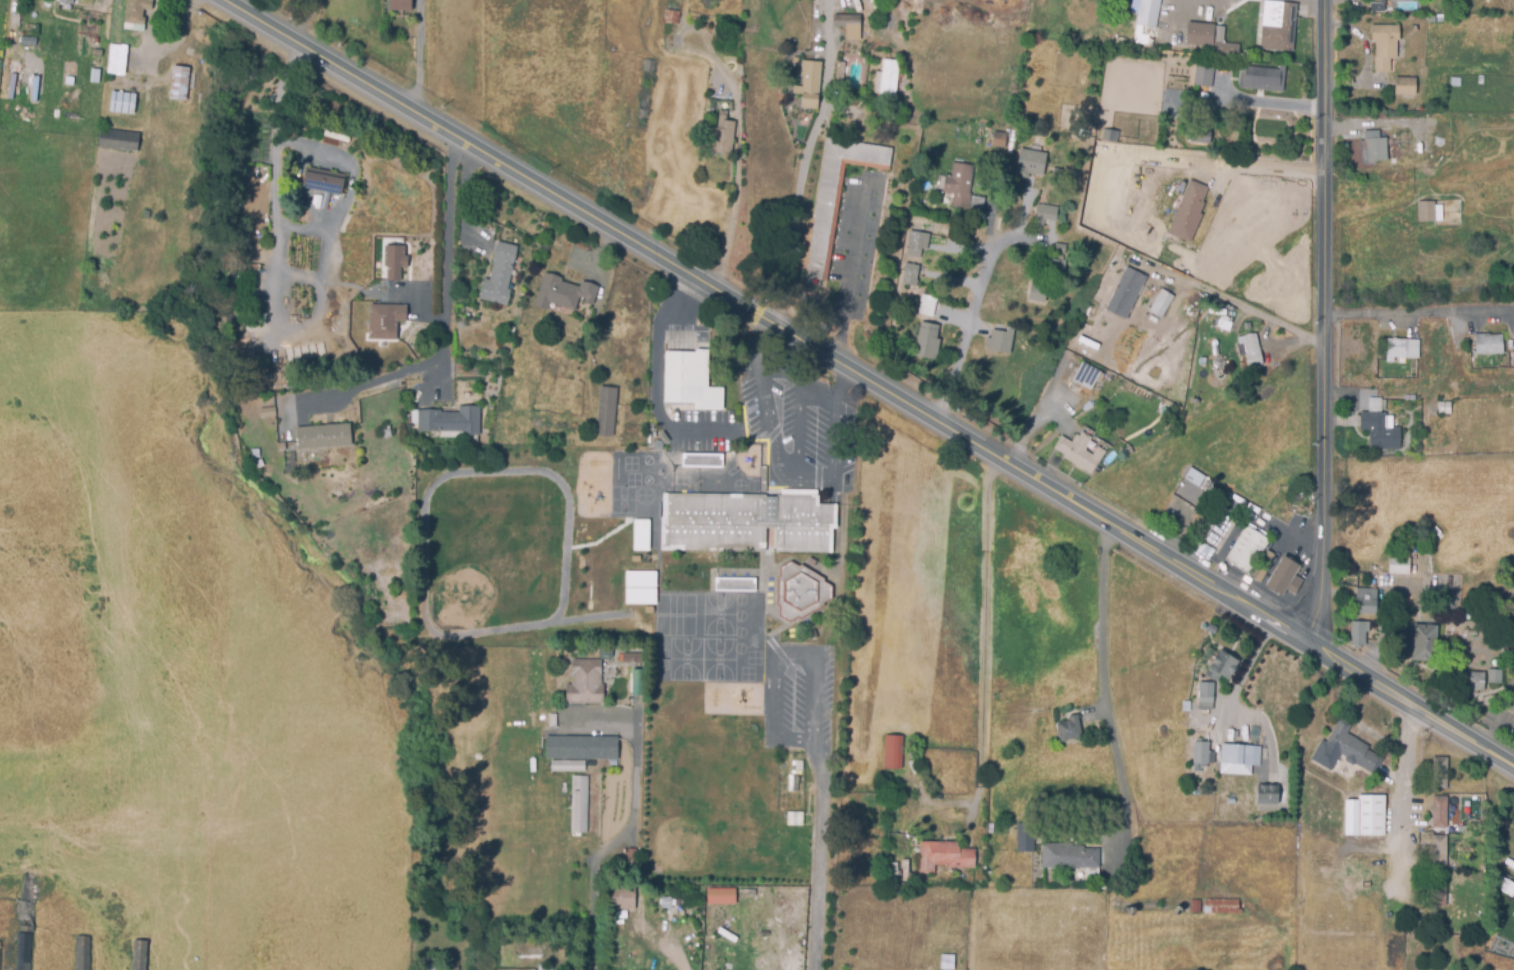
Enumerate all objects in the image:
building: (65, 1)
road: (1296, 2)
building: (108, 3)
building: (46, 4)
building: (399, 7)
building: (1382, 7)
building: (135, 13)
building: (1148, 13)
building: (850, 25)
building: (1279, 25)
building: (1210, 39)
building: (1388, 45)
building: (117, 59)
building: (840, 73)
building: (16, 74)
building: (1203, 76)
building: (1262, 78)
building: (887, 81)
building: (1456, 81)
building: (179, 83)
building: (811, 83)
building: (1406, 85)
building: (121, 102)
building: (857, 113)
road: (1371, 124)
building: (1084, 133)
building: (1200, 133)
building: (722, 135)
building: (1108, 137)
building: (116, 139)
building: (999, 140)
building: (1376, 145)
building: (1032, 162)
road: (806, 163)
road: (1229, 164)
building: (1128, 166)
building: (322, 181)
building: (1103, 181)
building: (960, 185)
building: (837, 196)
building: (977, 202)
road: (734, 205)
building: (1189, 211)
building: (1427, 211)
building: (1046, 214)
building: (955, 228)
road: (324, 231)
building: (953, 235)
building: (917, 243)
building: (1060, 247)
building: (396, 259)
building: (1057, 267)
building: (911, 274)
building: (499, 275)
road: (850, 275)
building: (562, 292)
building: (1039, 292)
building: (1126, 292)
building: (1161, 302)
road: (1236, 304)
building: (928, 305)
road: (1418, 316)
building: (387, 319)
road: (446, 319)
road: (682, 319)
road: (1323, 324)
road: (969, 328)
building: (510, 330)
building: (1513, 334)
building: (1000, 340)
building: (927, 341)
building: (1489, 343)
building: (1401, 348)
building: (1249, 350)
road: (812, 351)
building: (1086, 376)
building: (689, 377)
road: (660, 388)
road: (843, 388)
building: (1443, 407)
building: (1164, 409)
building: (267, 411)
building: (606, 413)
building: (450, 420)
building: (1379, 426)
road: (798, 429)
building: (385, 432)
building: (323, 435)
road: (773, 438)
building: (281, 446)
building: (1079, 451)
building: (1127, 451)
building: (701, 460)
building: (746, 522)
building: (1215, 530)
road: (1285, 532)
building: (641, 535)
building: (1246, 549)
building: (1398, 565)
building: (1260, 569)
building: (1283, 577)
building: (641, 580)
building: (734, 584)
building: (800, 590)
building: (641, 597)
building: (1365, 600)
building: (1358, 632)
building: (1424, 642)
building: (632, 657)
road: (776, 659)
road: (983, 659)
building: (1221, 666)
building: (1495, 676)
building: (587, 680)
road: (1104, 680)
building: (1474, 681)
building: (638, 682)
building: (1206, 694)
building: (1511, 705)
building: (1071, 728)
road: (1463, 729)
building: (581, 746)
building: (1340, 749)
building: (893, 750)
building: (1240, 754)
building: (1202, 755)
building: (567, 766)
building: (1440, 772)
building: (1266, 793)
road: (1408, 794)
building: (578, 804)
building: (1439, 812)
road: (633, 815)
building: (1371, 815)
building: (1025, 837)
building: (1438, 850)
building: (631, 854)
building: (944, 854)
road: (815, 855)
building: (1069, 856)
building: (28, 886)
building: (1507, 886)
building: (1439, 889)
building: (720, 896)
building: (620, 898)
building: (1217, 906)
building: (1513, 913)
building: (26, 914)
road: (660, 944)
building: (23, 952)
building: (81, 953)
building: (139, 955)
building: (947, 961)
building: (427, 967)

